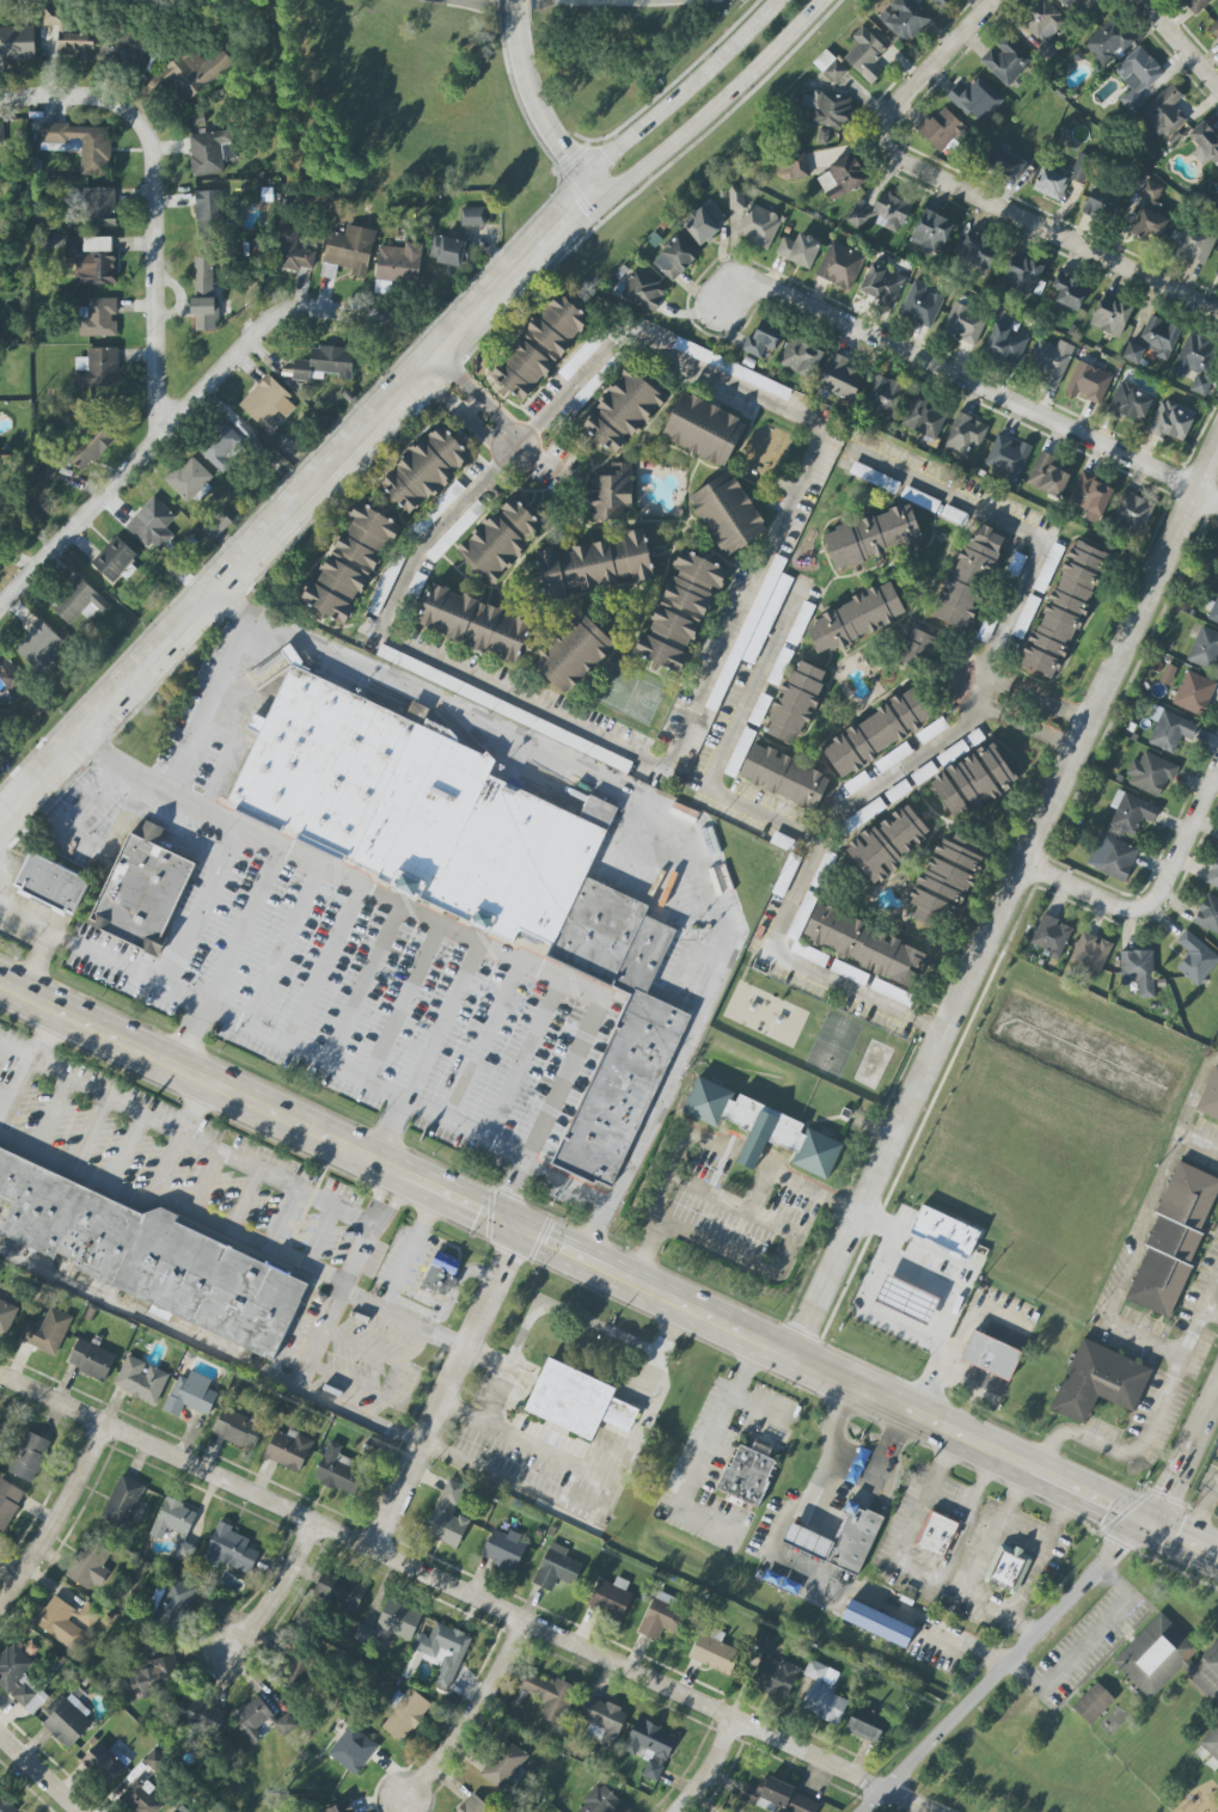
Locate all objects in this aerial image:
building: (599, 2)
building: (942, 2)
building: (1072, 4)
building: (1196, 5)
building: (54, 17)
building: (905, 18)
building: (1041, 29)
building: (1214, 29)
road: (1182, 41)
building: (1108, 42)
building: (17, 43)
building: (75, 44)
building: (124, 48)
building: (865, 55)
building: (1006, 60)
building: (831, 66)
building: (195, 71)
building: (1137, 76)
road: (686, 91)
building: (975, 99)
road: (535, 102)
road: (718, 104)
building: (828, 109)
building: (1164, 112)
building: (939, 129)
building: (1, 134)
building: (824, 135)
building: (1205, 143)
building: (209, 153)
building: (1004, 163)
building: (792, 166)
building: (1081, 169)
building: (845, 176)
building: (1051, 184)
road: (962, 192)
building: (736, 197)
road: (152, 200)
building: (1217, 201)
building: (1101, 204)
building: (99, 207)
building: (209, 212)
building: (890, 212)
building: (1150, 214)
building: (473, 216)
building: (857, 218)
building: (704, 222)
building: (759, 226)
building: (932, 232)
building: (1194, 245)
building: (451, 250)
building: (798, 250)
building: (978, 250)
building: (293, 251)
building: (349, 251)
building: (674, 257)
building: (91, 258)
building: (399, 262)
building: (839, 264)
building: (1217, 273)
building: (1022, 274)
building: (881, 284)
building: (643, 289)
building: (204, 293)
building: (1069, 294)
building: (922, 304)
building: (1110, 316)
building: (99, 318)
building: (965, 323)
building: (763, 338)
building: (1006, 341)
building: (1153, 341)
building: (540, 347)
building: (581, 356)
building: (801, 357)
building: (1051, 360)
building: (1196, 362)
building: (325, 363)
building: (97, 368)
building: (732, 368)
building: (840, 378)
road: (580, 382)
building: (1089, 382)
road: (971, 386)
building: (588, 391)
building: (885, 396)
road: (478, 397)
road: (183, 402)
building: (268, 403)
building: (1131, 403)
building: (622, 412)
building: (924, 418)
building: (1171, 421)
building: (704, 429)
building: (965, 433)
building: (90, 447)
building: (222, 448)
building: (1009, 454)
building: (48, 470)
building: (424, 470)
building: (1047, 476)
building: (874, 477)
building: (191, 479)
building: (1091, 494)
road: (296, 504)
building: (728, 513)
building: (1132, 513)
building: (153, 525)
building: (215, 525)
building: (455, 531)
road: (1024, 534)
building: (873, 535)
building: (501, 540)
building: (115, 558)
building: (350, 564)
building: (594, 564)
building: (969, 576)
building: (79, 601)
building: (1064, 610)
building: (680, 612)
building: (1214, 612)
building: (1026, 616)
building: (856, 618)
building: (475, 623)
building: (800, 623)
building: (38, 644)
building: (918, 649)
building: (1205, 649)
building: (573, 654)
building: (779, 666)
building: (7, 675)
building: (1194, 693)
park: (630, 694)
road: (1041, 702)
building: (796, 703)
road: (210, 706)
road: (243, 722)
building: (1170, 729)
building: (932, 730)
road: (1027, 730)
building: (877, 731)
road: (894, 773)
building: (1150, 773)
building: (784, 777)
building: (973, 780)
road: (666, 809)
building: (1131, 813)
road: (800, 833)
road: (81, 843)
building: (888, 843)
road: (1185, 843)
road: (172, 844)
road: (653, 850)
building: (1113, 857)
building: (471, 868)
road: (4, 873)
building: (1213, 874)
building: (787, 875)
building: (947, 879)
building: (50, 883)
road: (625, 883)
road: (1085, 890)
building: (141, 894)
road: (201, 907)
road: (1004, 907)
building: (1208, 914)
road: (448, 926)
road: (244, 928)
building: (1052, 936)
road: (43, 939)
building: (863, 943)
road: (281, 945)
building: (1090, 953)
building: (1196, 957)
road: (322, 966)
building: (849, 972)
building: (1138, 972)
road: (362, 985)
building: (892, 992)
road: (403, 1003)
building: (753, 1006)
building: (779, 1020)
road: (445, 1023)
road: (188, 1037)
road: (481, 1041)
park: (833, 1045)
road: (300, 1054)
road: (521, 1060)
road: (11, 1082)
building: (1210, 1097)
road: (1, 1100)
building: (763, 1128)
road: (386, 1131)
road: (186, 1134)
road: (180, 1138)
road: (1198, 1141)
road: (752, 1155)
road: (669, 1183)
road: (810, 1186)
road: (564, 1187)
road: (173, 1202)
road: (874, 1223)
road: (1144, 1228)
building: (943, 1232)
building: (1174, 1238)
road: (410, 1253)
building: (151, 1256)
building: (442, 1273)
road: (607, 1273)
road: (869, 1274)
road: (345, 1280)
building: (906, 1299)
road: (1210, 1314)
building: (6, 1317)
road: (402, 1322)
building: (48, 1332)
road: (209, 1348)
building: (990, 1355)
building: (91, 1359)
road: (504, 1375)
building: (141, 1379)
building: (1098, 1382)
road: (445, 1391)
building: (191, 1395)
building: (569, 1398)
road: (1151, 1421)
building: (238, 1428)
building: (288, 1450)
road: (698, 1455)
building: (29, 1456)
building: (336, 1469)
road: (608, 1473)
building: (747, 1475)
road: (828, 1475)
road: (491, 1477)
road: (582, 1499)
building: (123, 1501)
building: (7, 1506)
road: (1201, 1510)
building: (448, 1517)
road: (59, 1518)
building: (177, 1526)
building: (937, 1534)
building: (808, 1541)
building: (229, 1549)
building: (504, 1549)
road: (1046, 1551)
road: (979, 1562)
building: (90, 1565)
building: (556, 1567)
building: (1008, 1567)
road: (914, 1573)
building: (338, 1592)
road: (277, 1593)
road: (465, 1594)
building: (611, 1597)
building: (170, 1603)
road: (886, 1608)
road: (1055, 1609)
building: (662, 1617)
building: (399, 1620)
building: (66, 1621)
building: (877, 1624)
building: (365, 1633)
road: (1085, 1640)
building: (714, 1651)
building: (443, 1652)
building: (1156, 1654)
building: (295, 1666)
building: (772, 1669)
building: (152, 1673)
building: (20, 1679)
building: (824, 1692)
building: (550, 1695)
building: (1092, 1703)
building: (201, 1712)
building: (405, 1714)
building: (259, 1719)
building: (602, 1719)
building: (68, 1721)
road: (472, 1722)
building: (867, 1724)
building: (1211, 1741)
building: (650, 1746)
building: (353, 1750)
building: (154, 1761)
building: (103, 1762)
building: (504, 1764)
road: (711, 1769)
road: (38, 1774)
building: (767, 1794)
building: (141, 1796)
building: (602, 1801)
building: (475, 1805)
building: (801, 1805)
building: (341, 1807)
building: (182, 1808)

